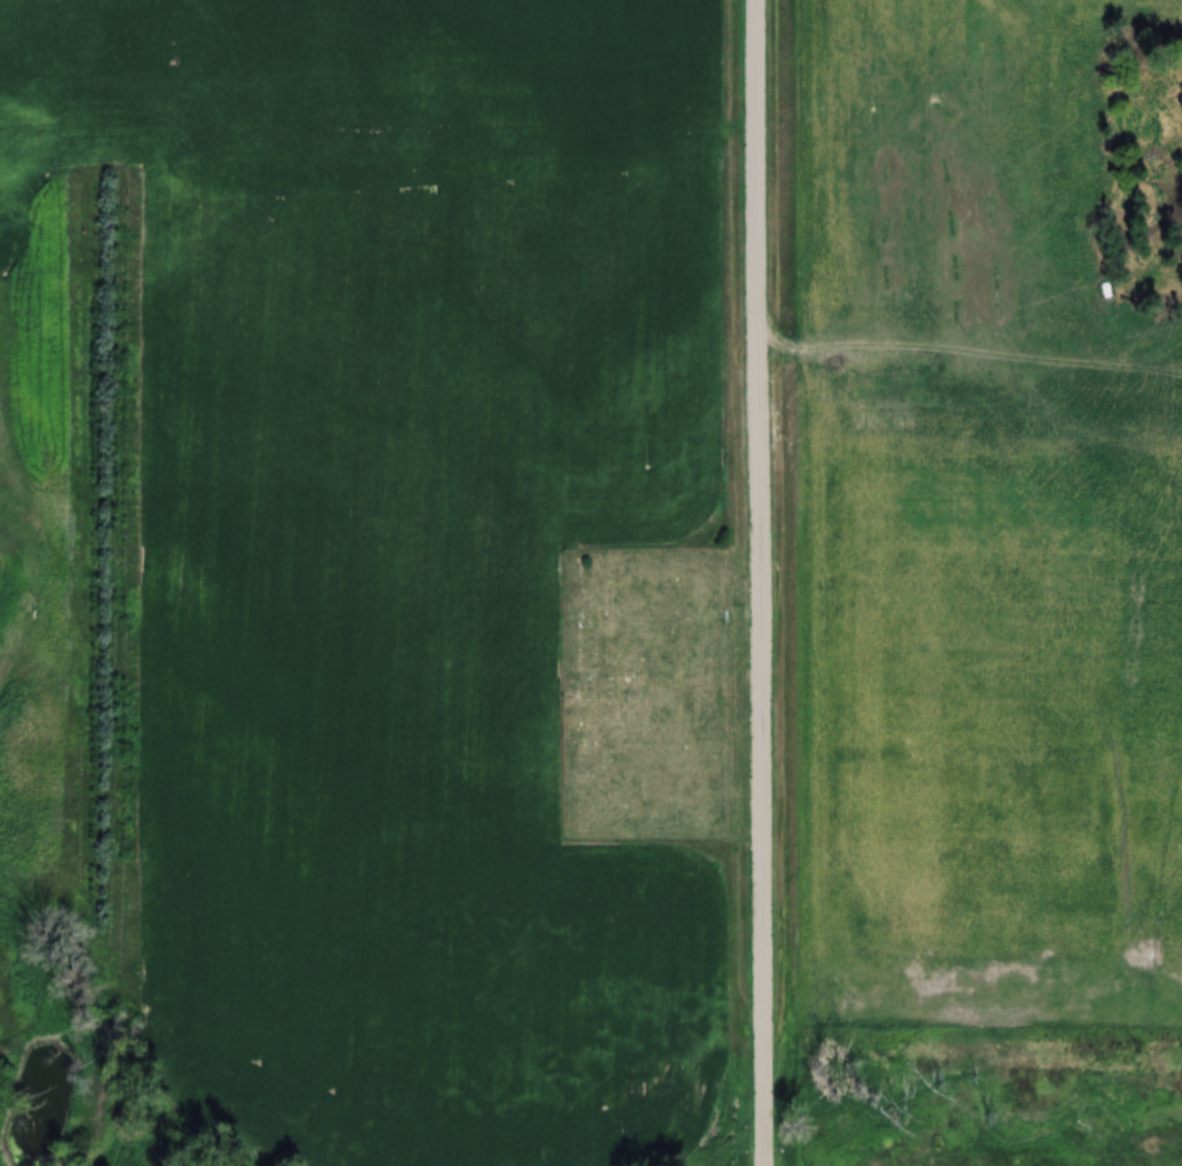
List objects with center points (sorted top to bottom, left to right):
road: (764, 582)

